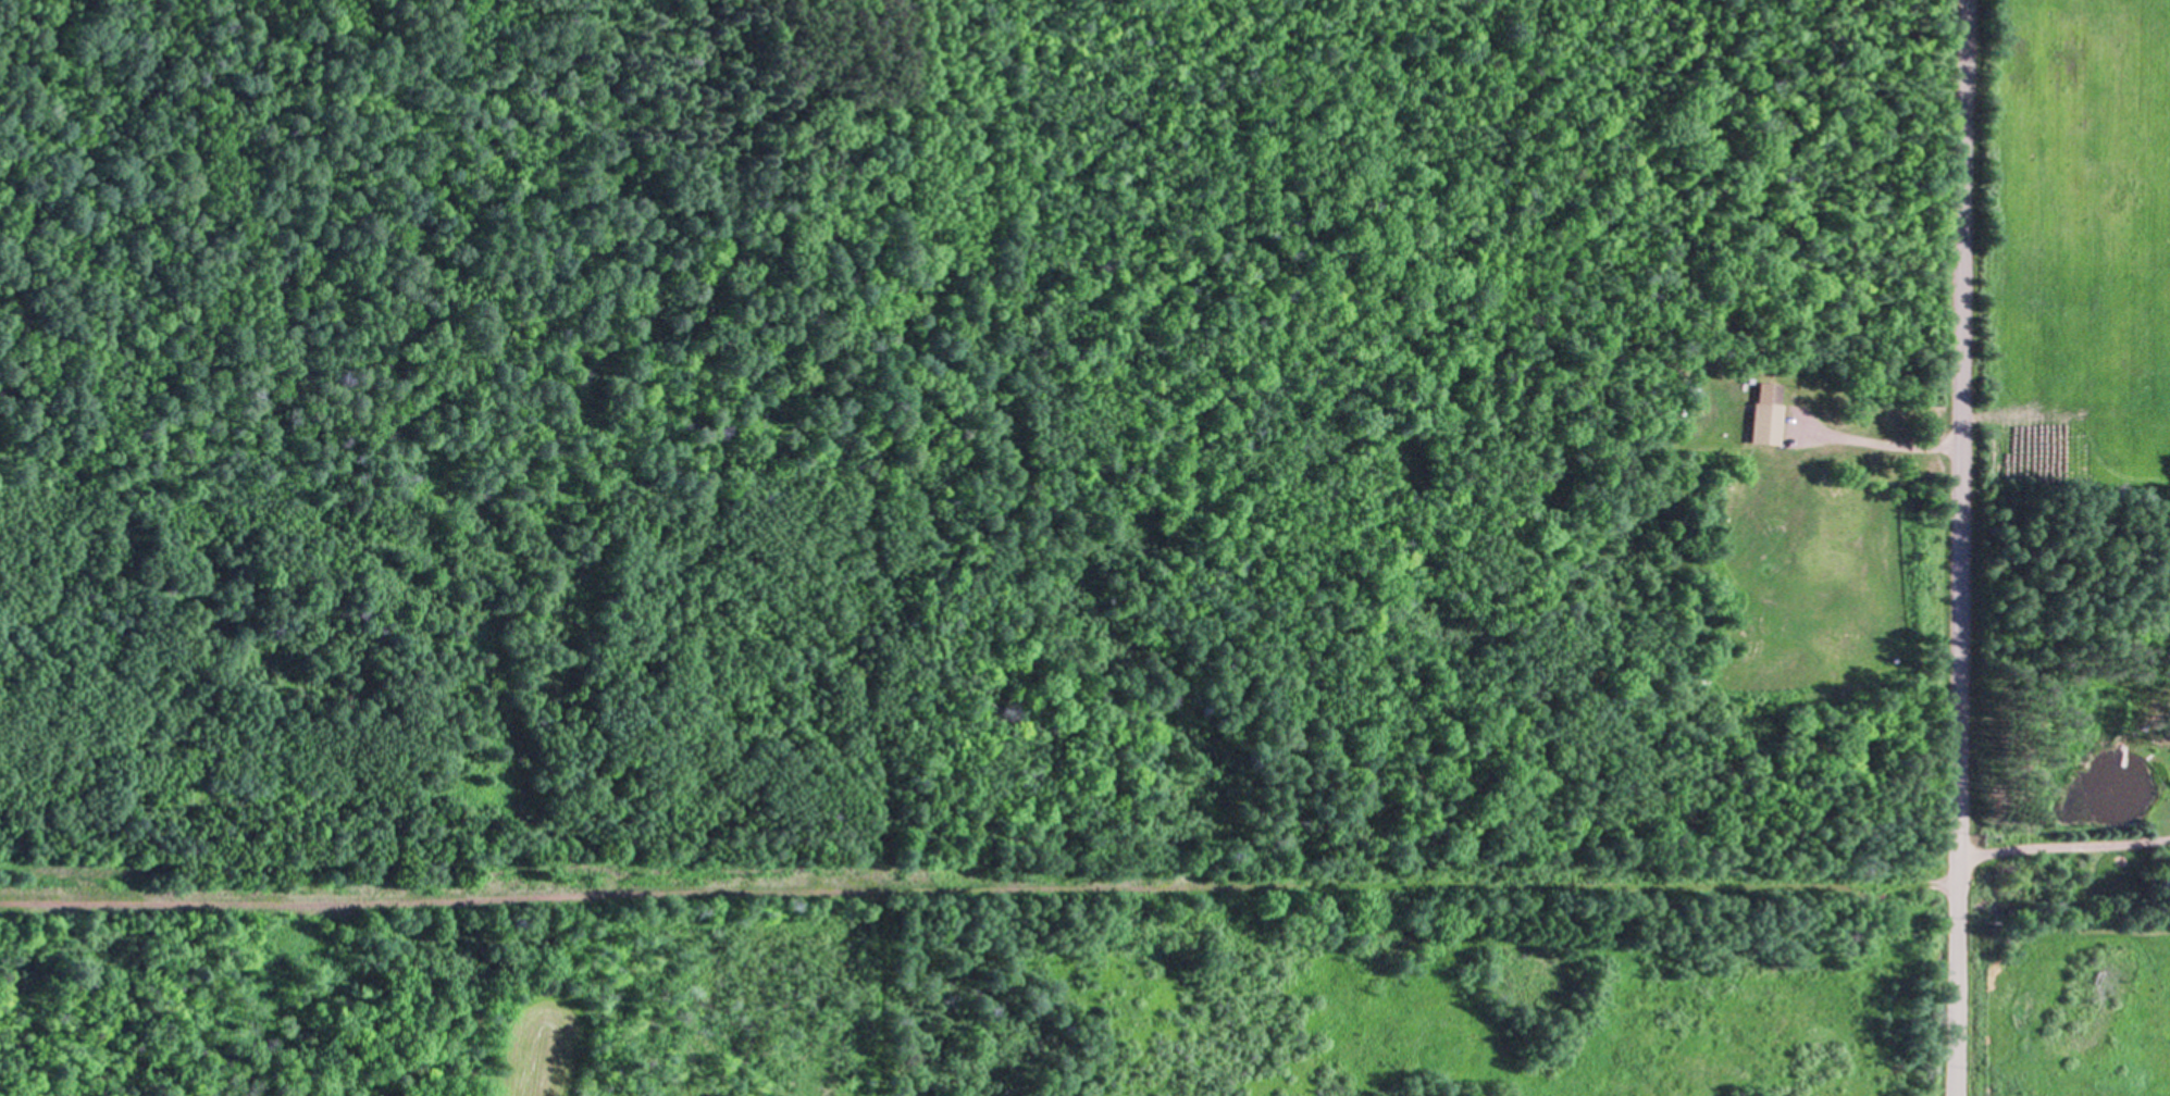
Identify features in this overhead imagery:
crop: (2071, 241)
building: (1695, 407)
building: (1765, 412)
road: (1960, 548)
crop: (2067, 1010)

